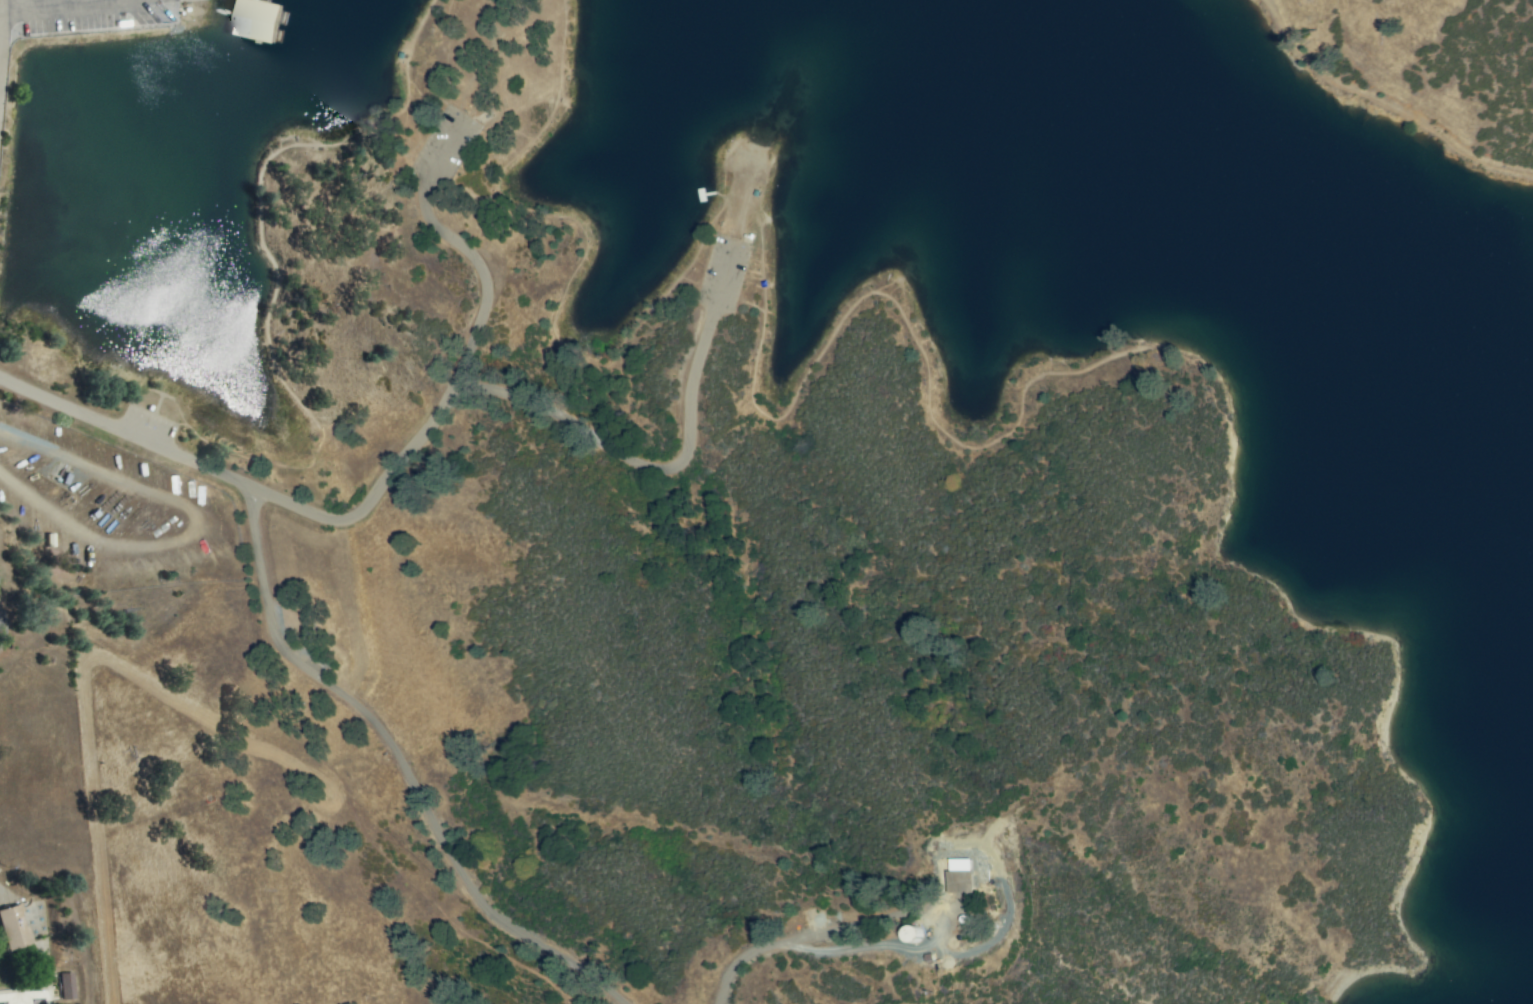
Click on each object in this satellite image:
building: (244, 20)
road: (127, 434)
road: (405, 452)
road: (376, 782)
building: (949, 873)
road: (74, 888)
road: (263, 916)
building: (15, 927)
road: (892, 959)
building: (68, 986)

